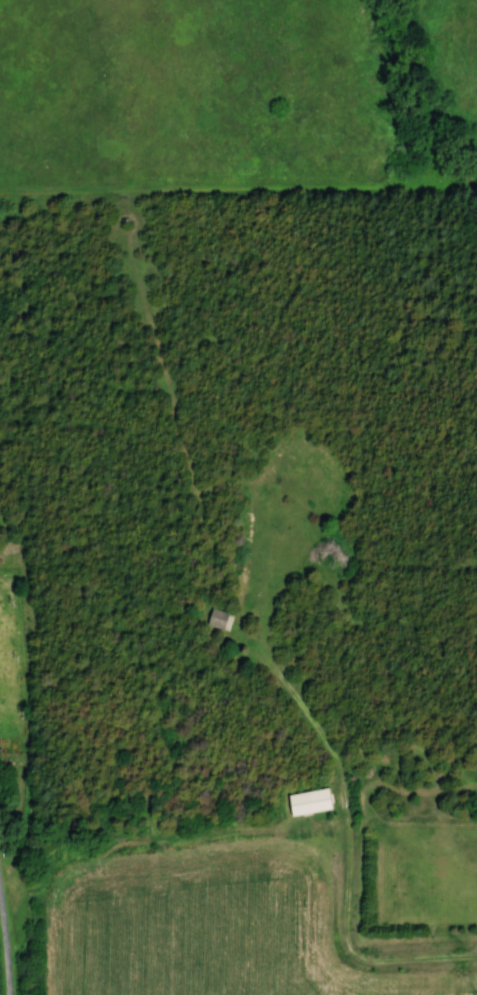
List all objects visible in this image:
building: (216, 619)
building: (305, 802)
road: (6, 942)

